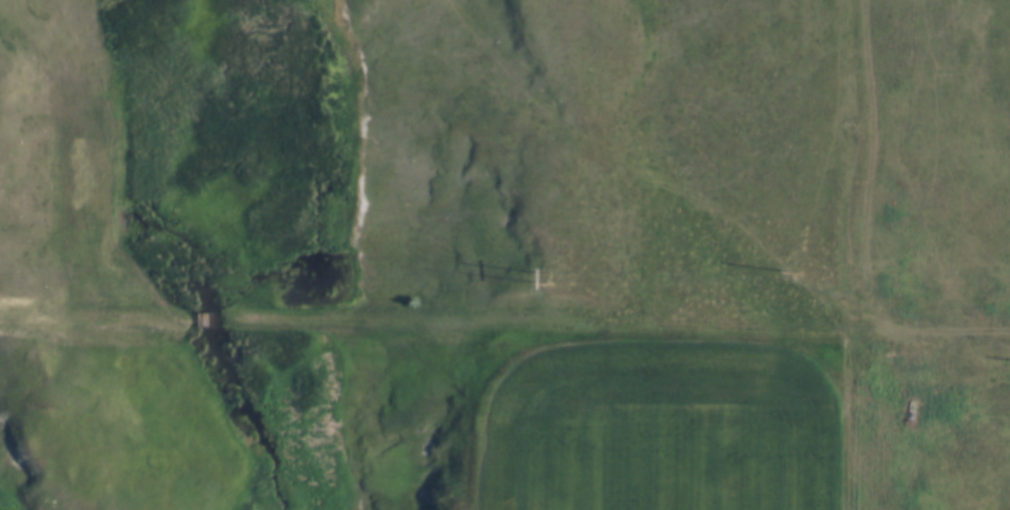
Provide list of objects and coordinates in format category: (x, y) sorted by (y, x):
road: (951, 330)

